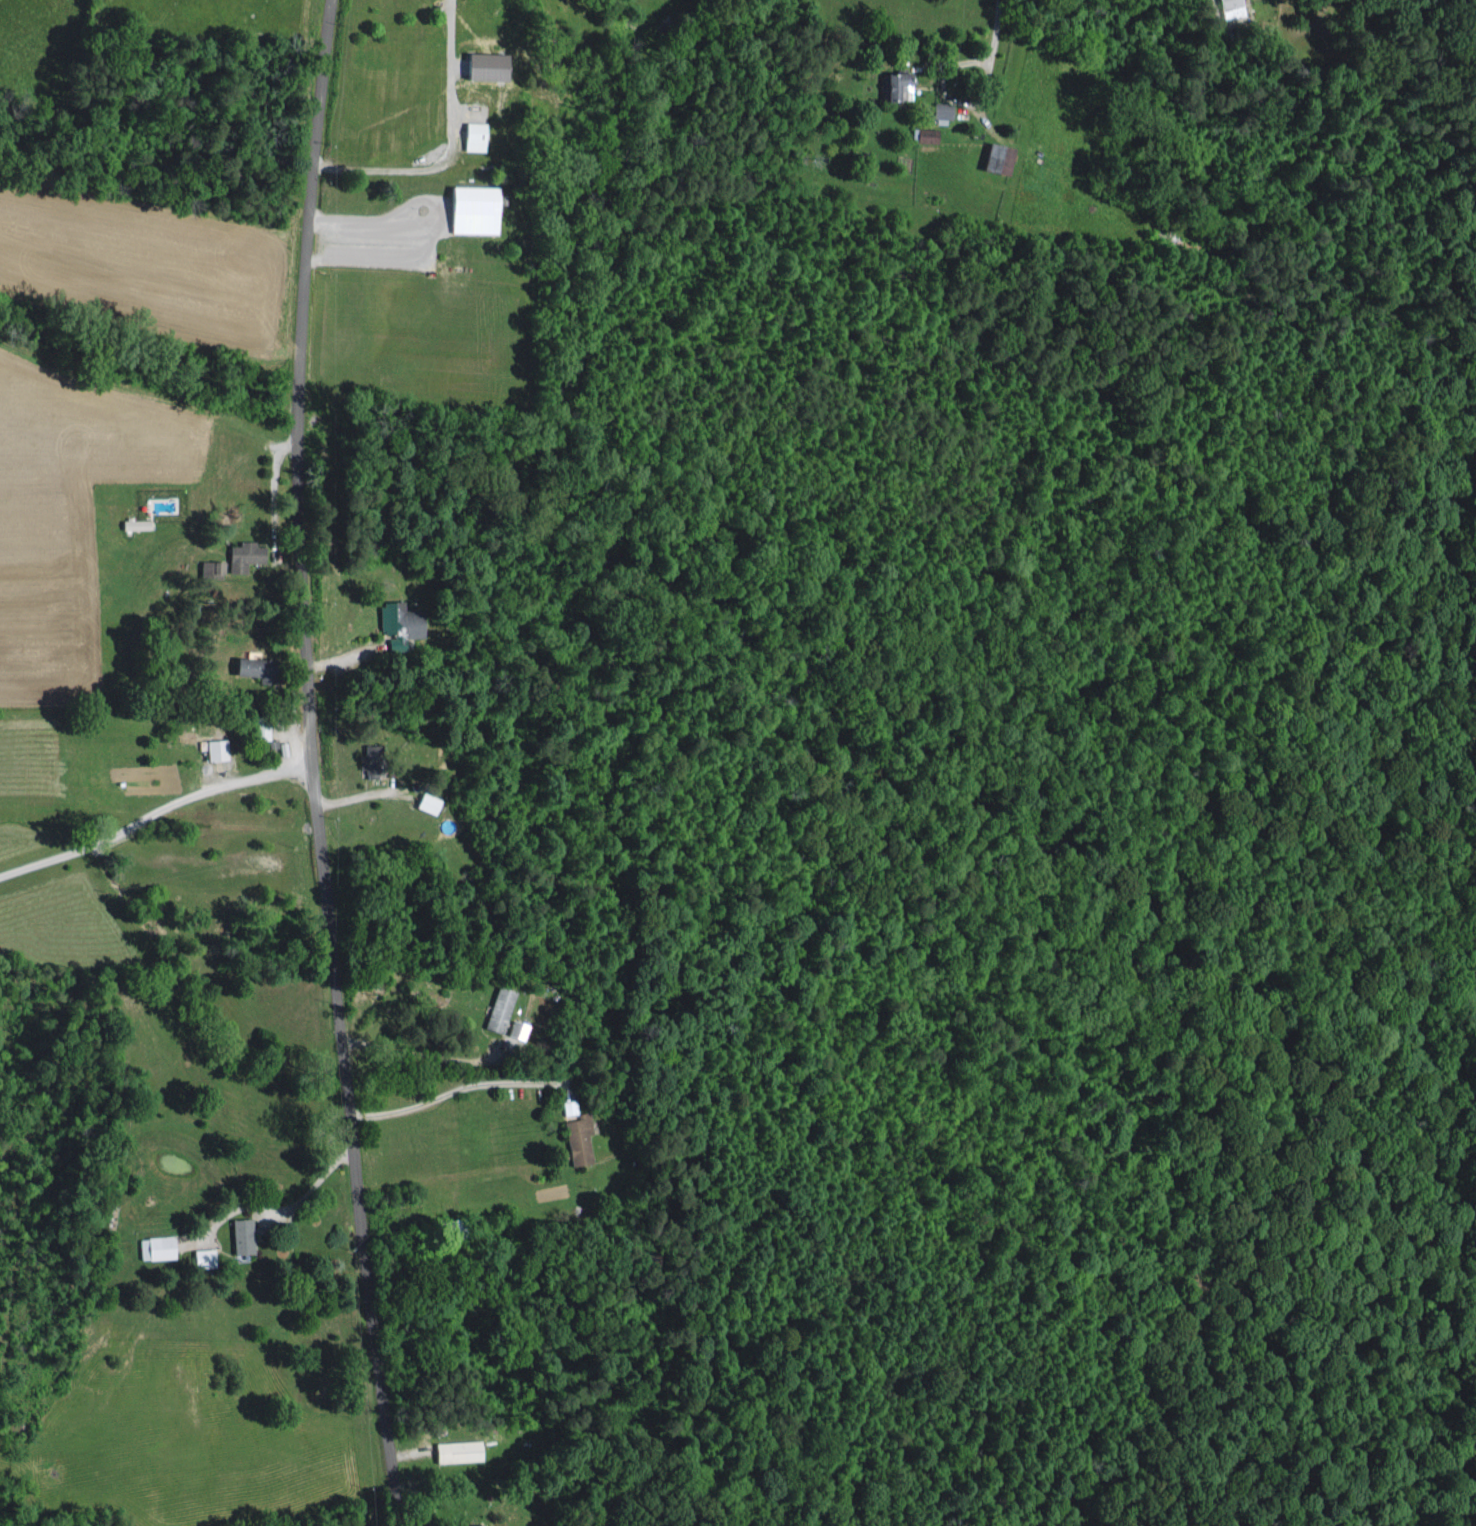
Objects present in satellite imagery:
building: (1231, 10)
building: (480, 64)
building: (890, 84)
building: (938, 109)
building: (922, 133)
building: (471, 134)
building: (993, 157)
building: (468, 207)
building: (241, 554)
building: (209, 568)
building: (397, 618)
building: (244, 665)
building: (260, 731)
building: (214, 748)
road: (311, 764)
building: (423, 801)
building: (497, 1008)
road: (455, 1089)
building: (568, 1105)
building: (576, 1136)
building: (238, 1233)
building: (153, 1245)
building: (199, 1255)
building: (455, 1449)
building: (473, 1524)

